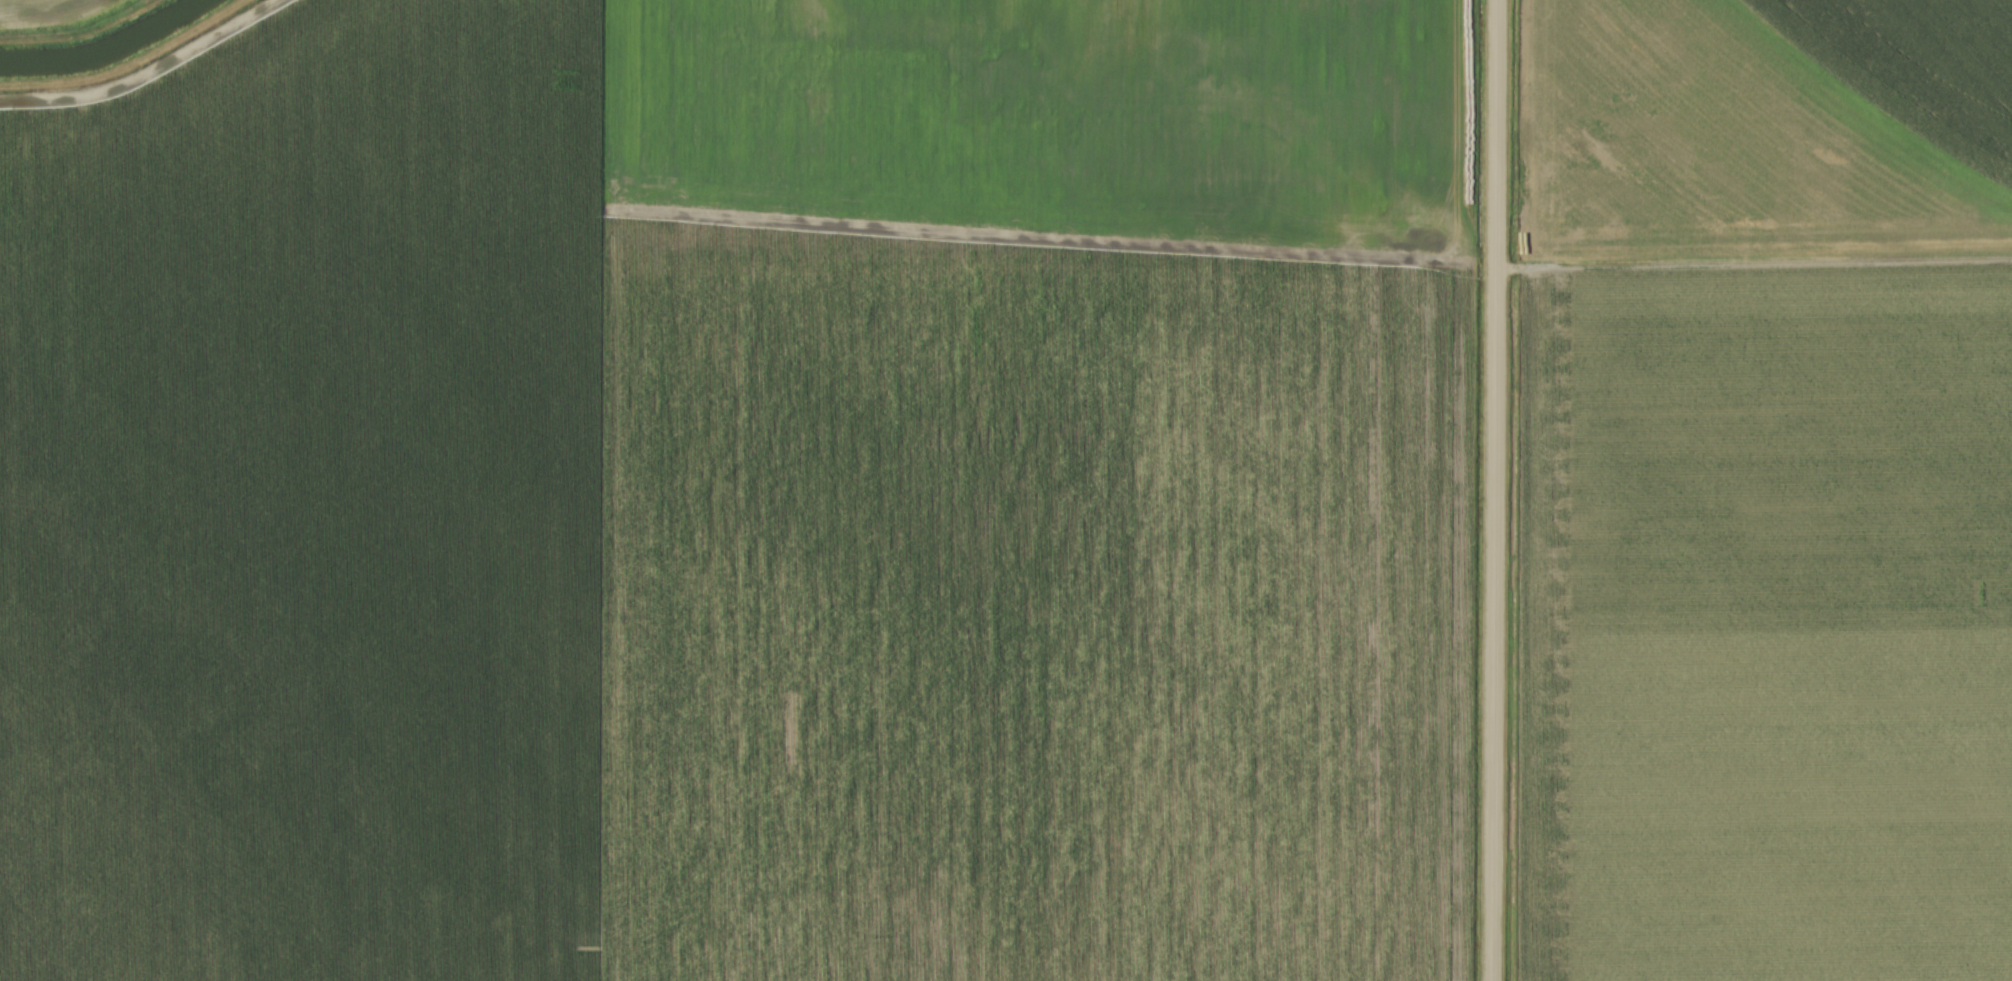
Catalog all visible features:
crop: (18, 7)
road: (1491, 490)
crop: (1766, 491)
crop: (745, 497)

